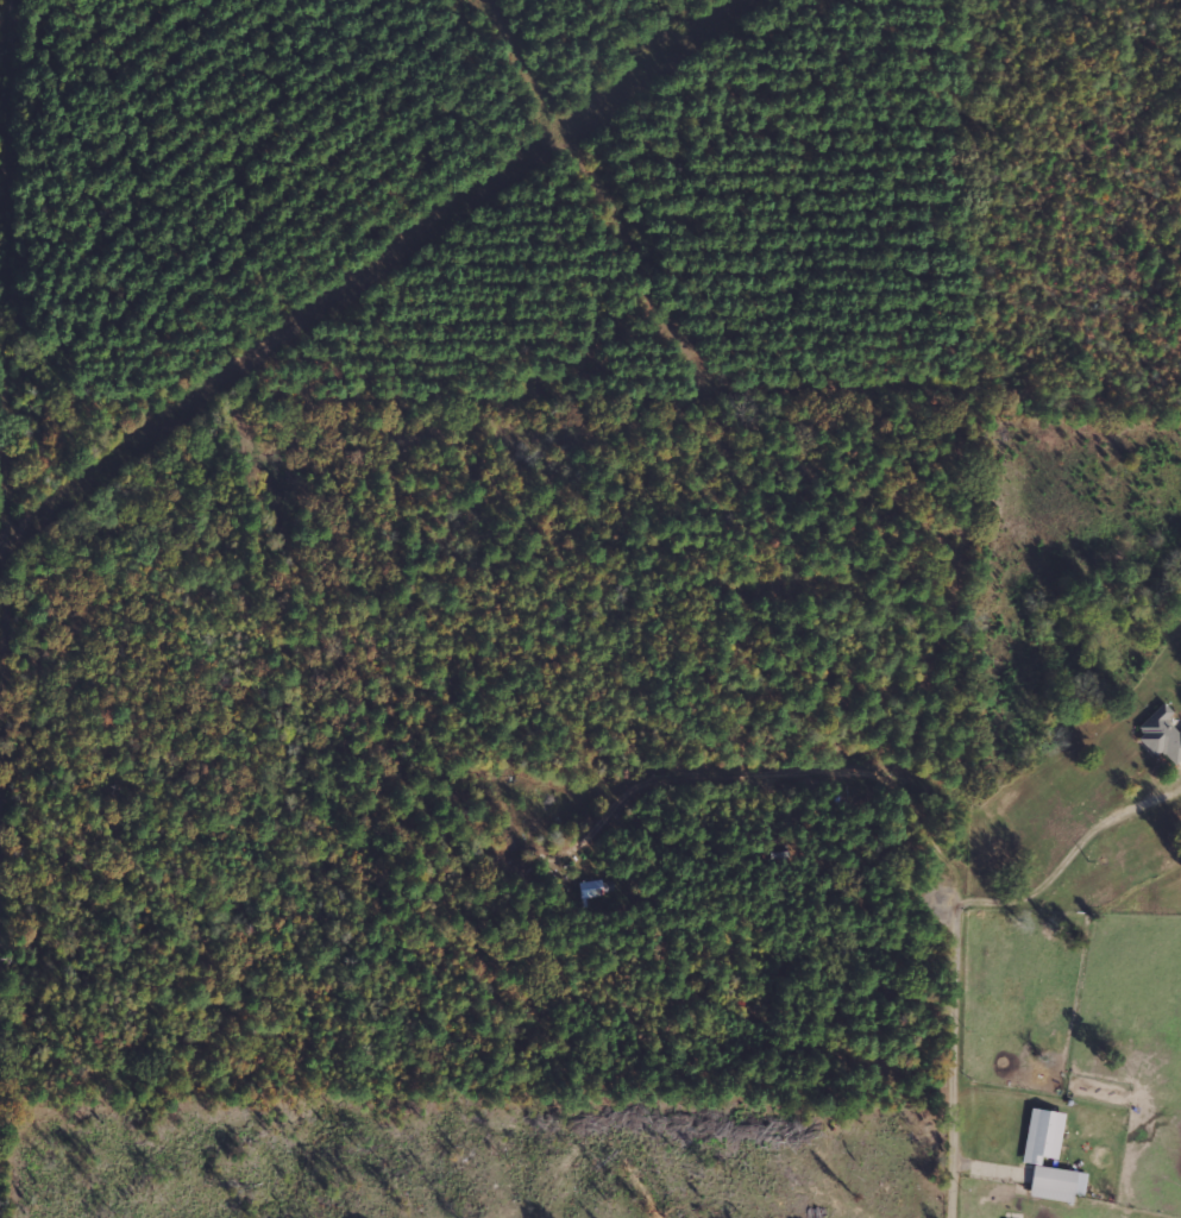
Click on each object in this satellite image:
building: (1162, 735)
road: (963, 1053)
road: (1085, 1098)
building: (1044, 1135)

